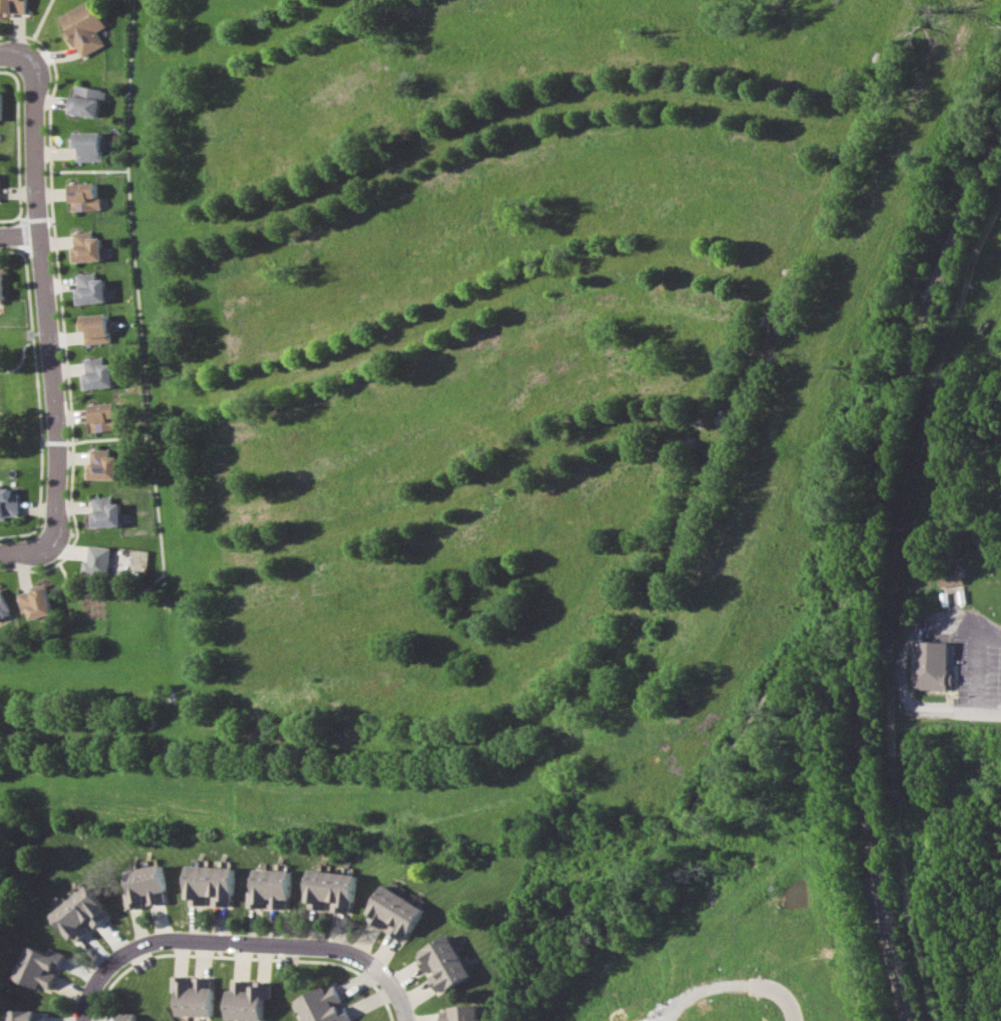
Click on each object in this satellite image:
building: (13, 6)
building: (86, 23)
road: (251, 43)
road: (10, 58)
building: (83, 97)
building: (0, 98)
road: (496, 118)
building: (86, 141)
building: (83, 197)
road: (148, 201)
road: (19, 235)
building: (85, 247)
building: (1, 284)
building: (90, 289)
road: (45, 306)
road: (479, 306)
building: (94, 328)
building: (96, 374)
park: (14, 402)
building: (103, 417)
building: (100, 465)
road: (456, 496)
building: (7, 503)
road: (19, 553)
building: (95, 561)
road: (186, 568)
railway: (873, 572)
building: (949, 575)
building: (34, 601)
building: (2, 606)
road: (646, 637)
building: (930, 665)
road: (957, 713)
building: (208, 885)
building: (143, 888)
building: (270, 888)
building: (330, 890)
building: (393, 912)
building: (79, 917)
road: (243, 942)
building: (443, 964)
building: (37, 969)
road: (733, 979)
building: (192, 995)
building: (244, 999)
building: (321, 1005)
building: (460, 1013)
building: (25, 1015)
building: (127, 1017)

